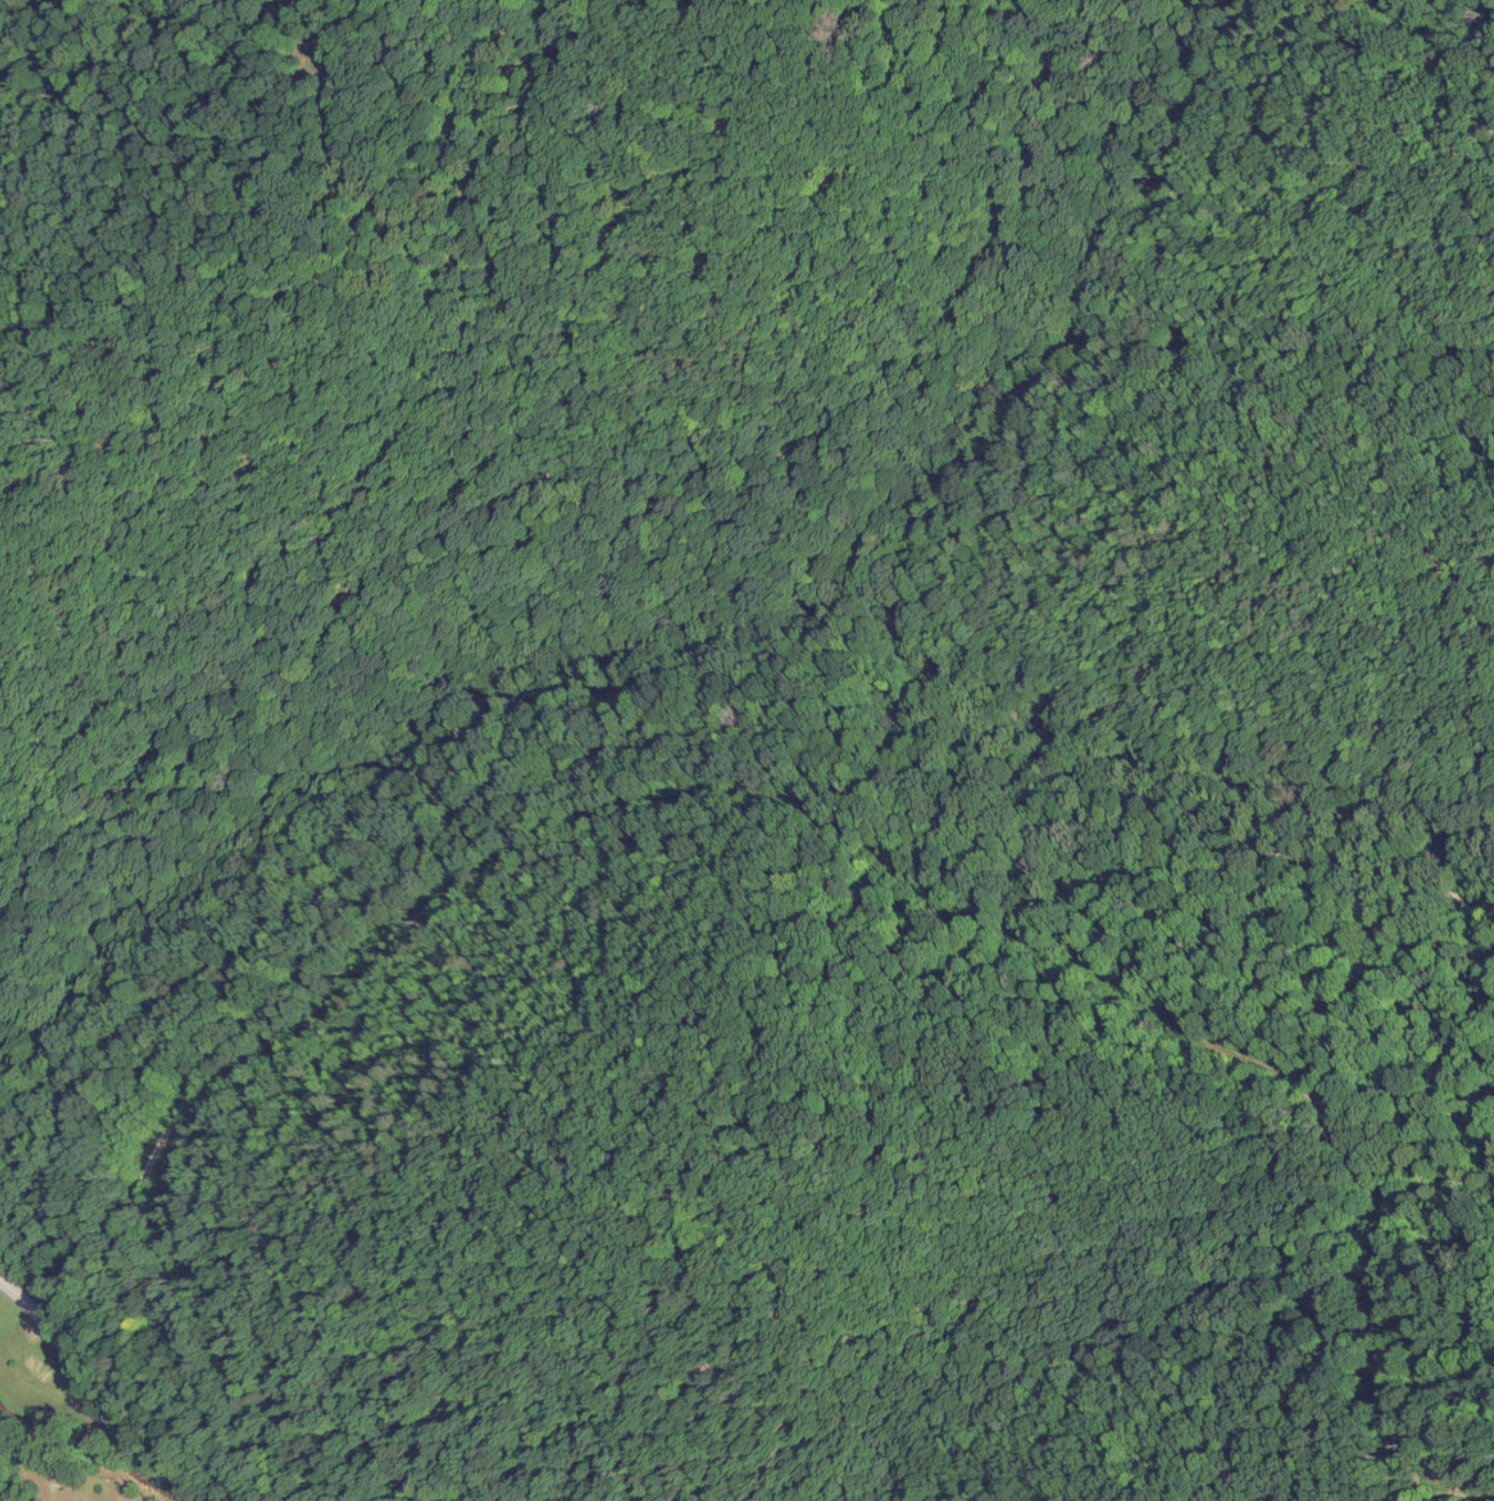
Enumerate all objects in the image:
road: (601, 479)
road: (734, 711)
road: (170, 1352)
road: (98, 1393)

